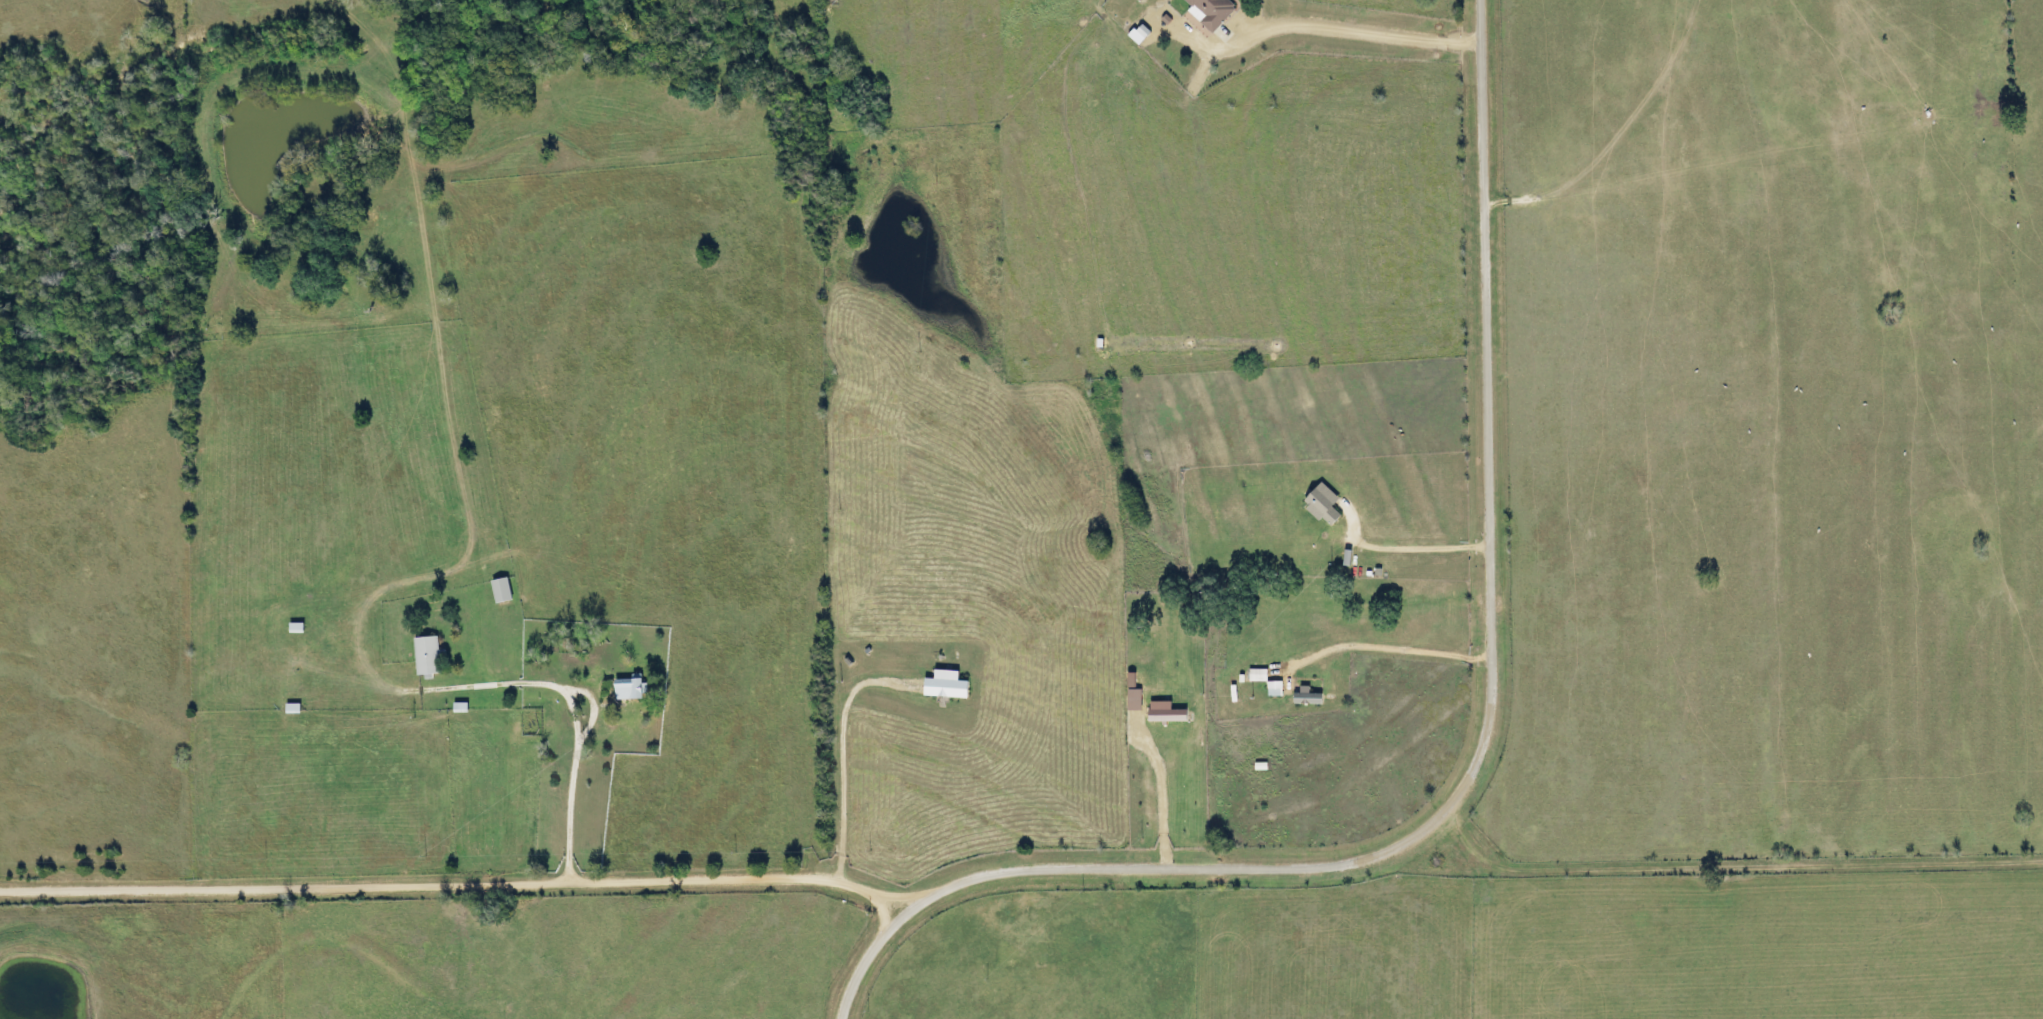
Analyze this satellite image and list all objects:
building: (1200, 11)
building: (508, 590)
building: (435, 656)
building: (634, 688)
building: (545, 707)
building: (298, 708)
road: (1480, 751)
road: (459, 879)

